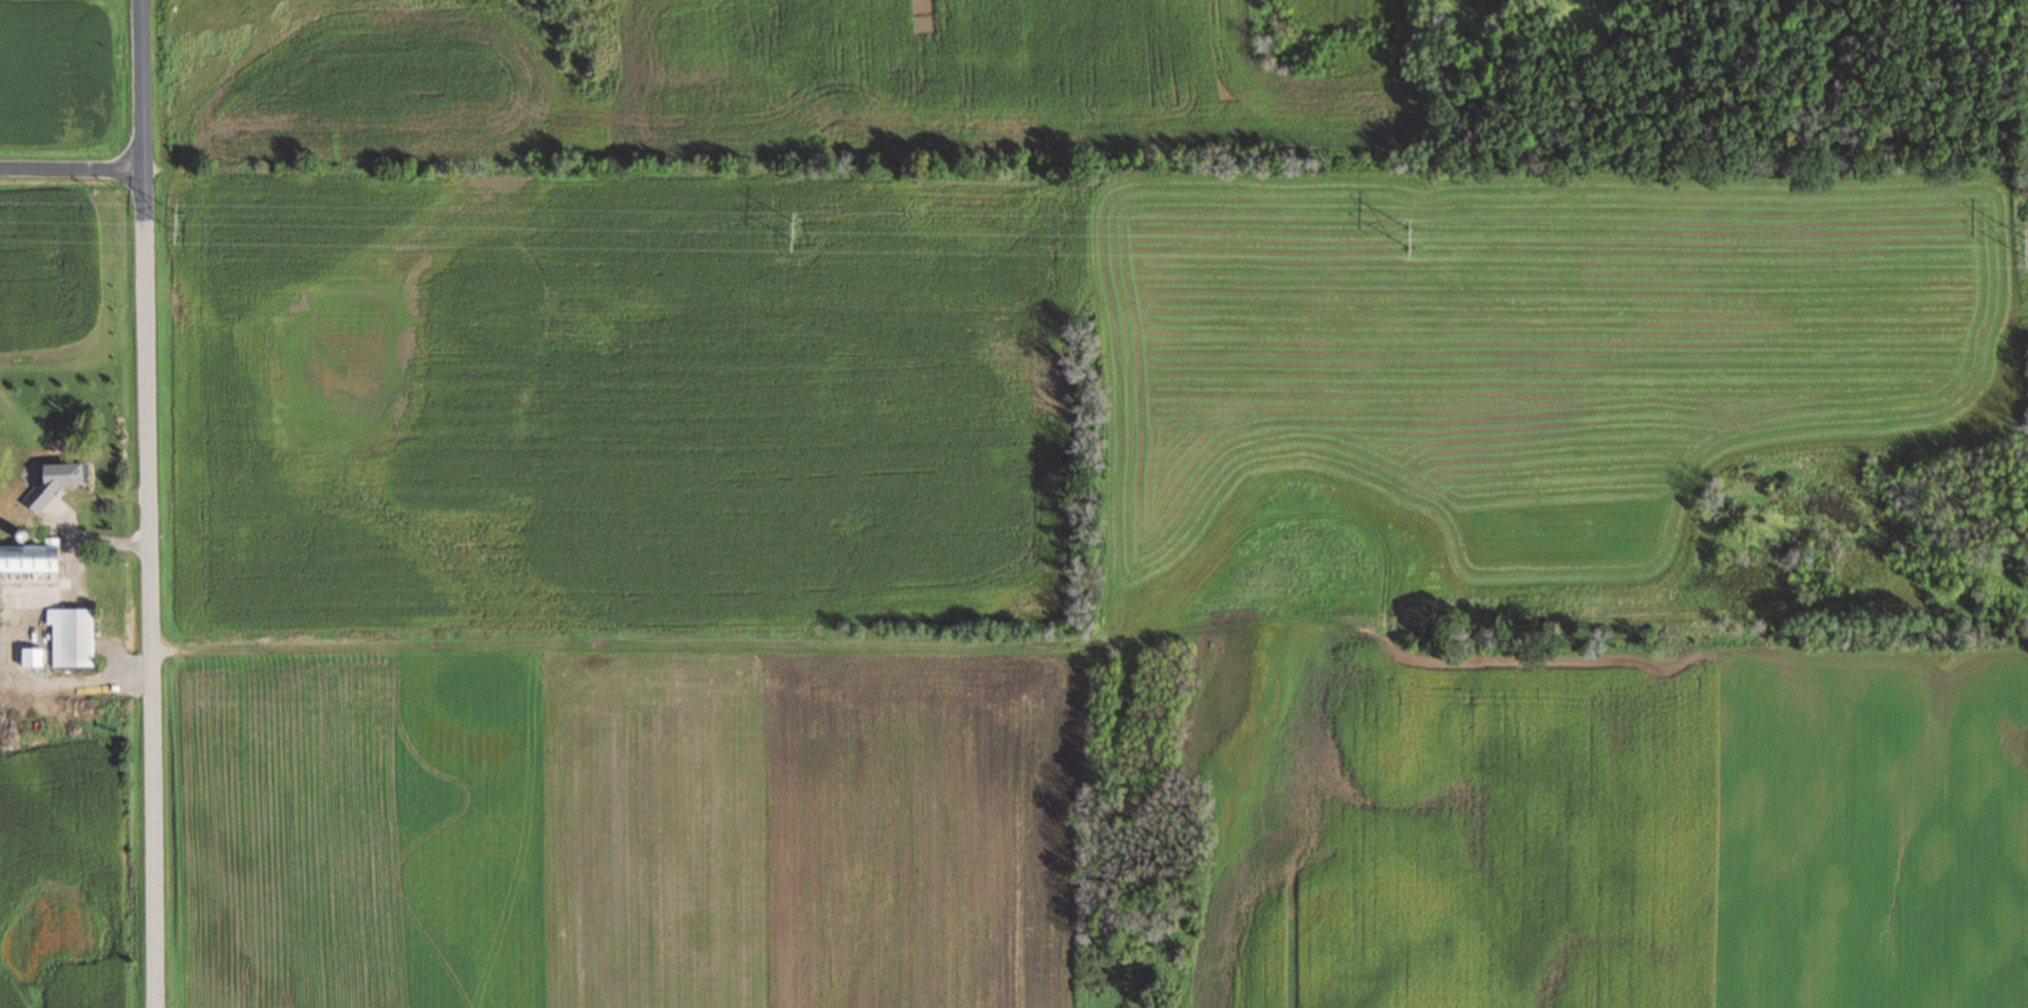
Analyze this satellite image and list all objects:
road: (73, 168)
power tower: (178, 221)
power tower: (794, 229)
power tower: (1411, 237)
power tower: (2025, 245)
building: (41, 475)
building: (8, 497)
road: (151, 503)
road: (68, 518)
building: (32, 553)
building: (70, 637)

